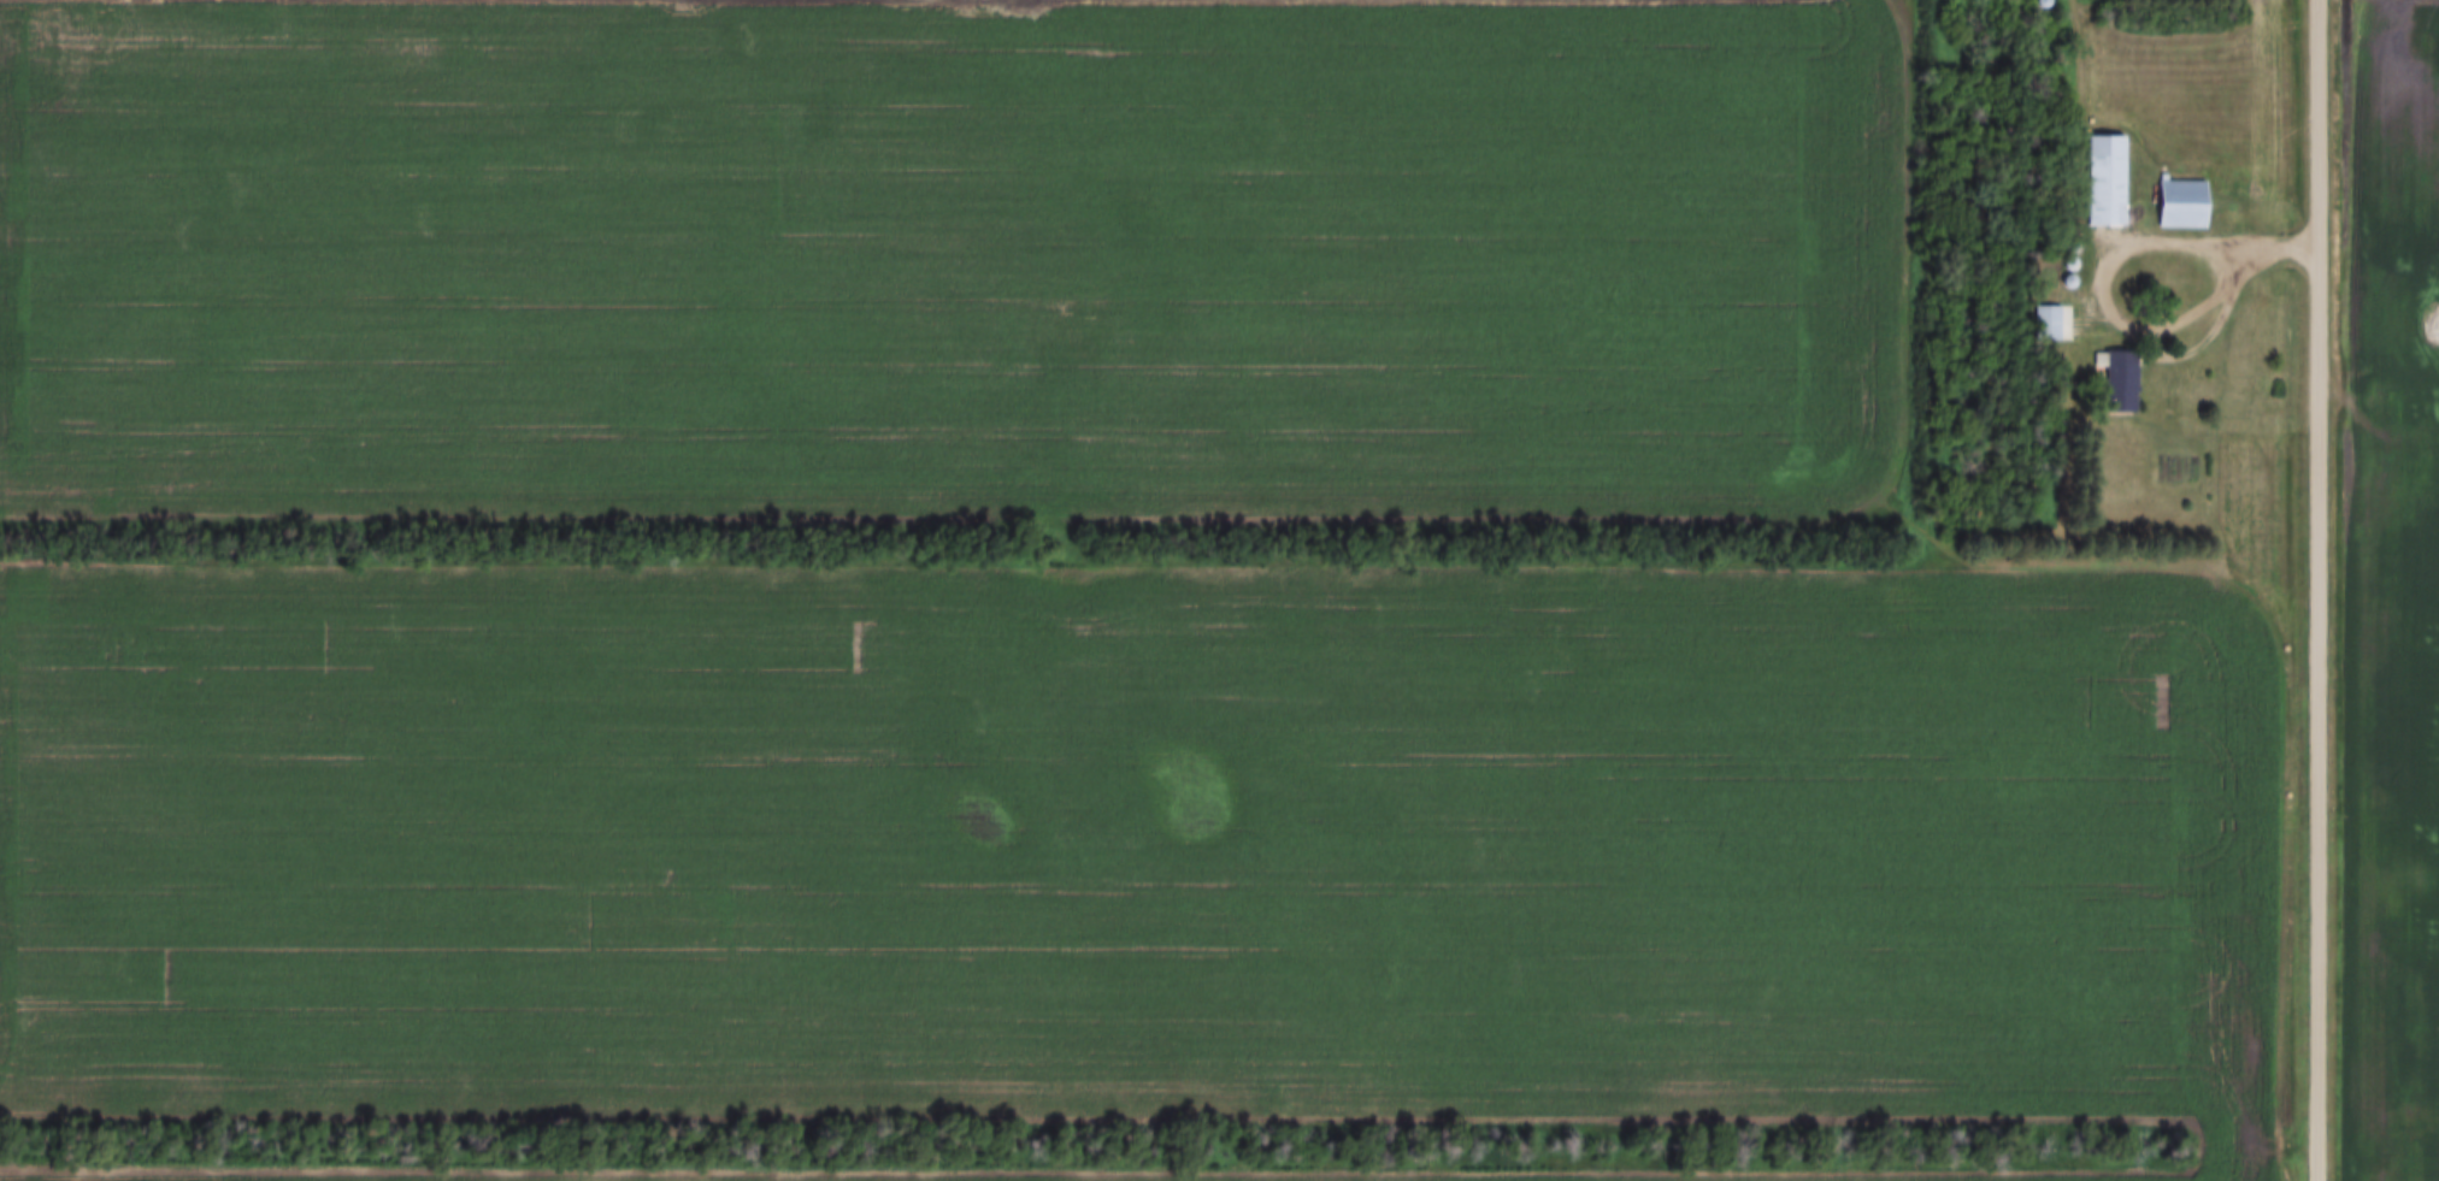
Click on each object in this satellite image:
building: (2099, 181)
building: (2176, 203)
building: (2044, 323)
road: (2134, 324)
building: (2114, 379)
road: (2319, 590)

